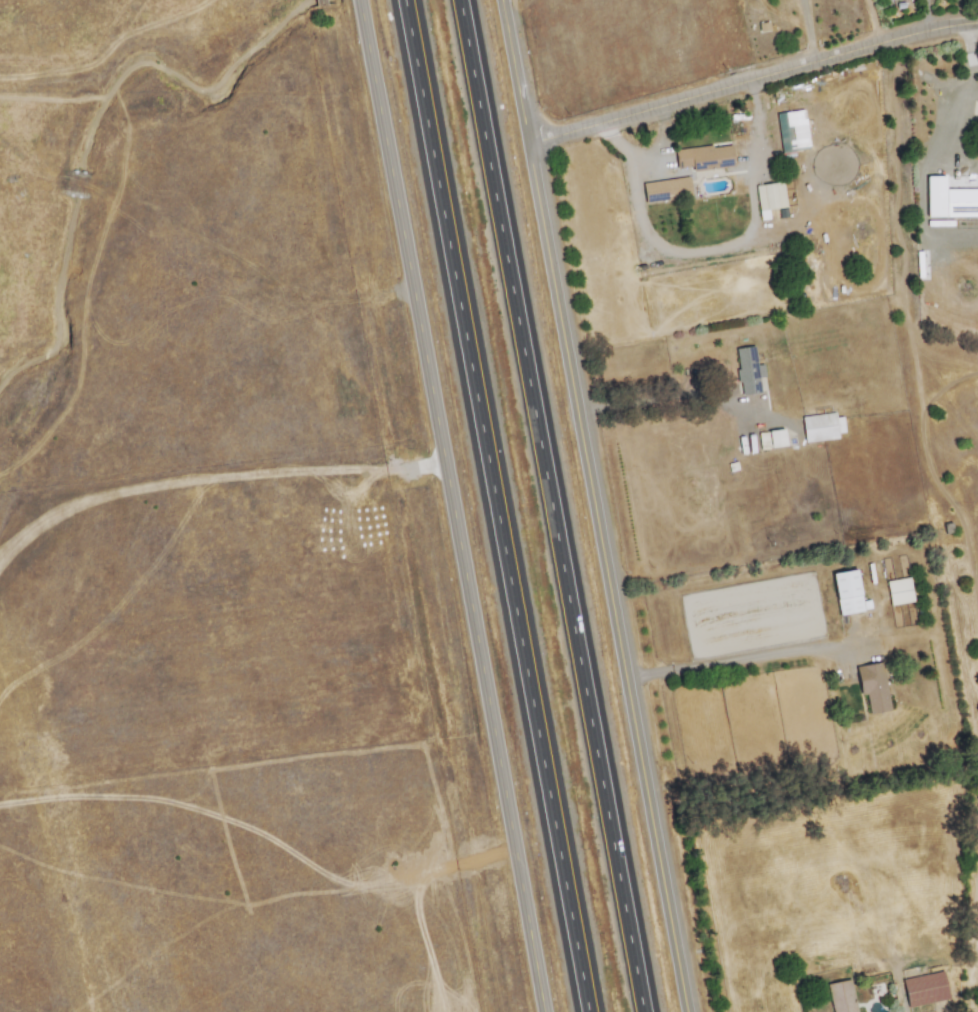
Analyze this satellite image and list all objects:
road: (807, 30)
road: (968, 48)
road: (88, 65)
road: (751, 78)
building: (784, 132)
road: (661, 142)
building: (704, 157)
road: (77, 183)
building: (665, 189)
building: (769, 195)
building: (949, 199)
road: (712, 249)
building: (747, 370)
road: (640, 400)
building: (822, 426)
building: (775, 437)
road: (446, 505)
road: (595, 505)
railway: (411, 506)
road: (495, 506)
road: (549, 506)
road: (751, 568)
building: (898, 590)
building: (846, 591)
road: (768, 665)
building: (872, 686)
building: (924, 988)
building: (841, 996)

